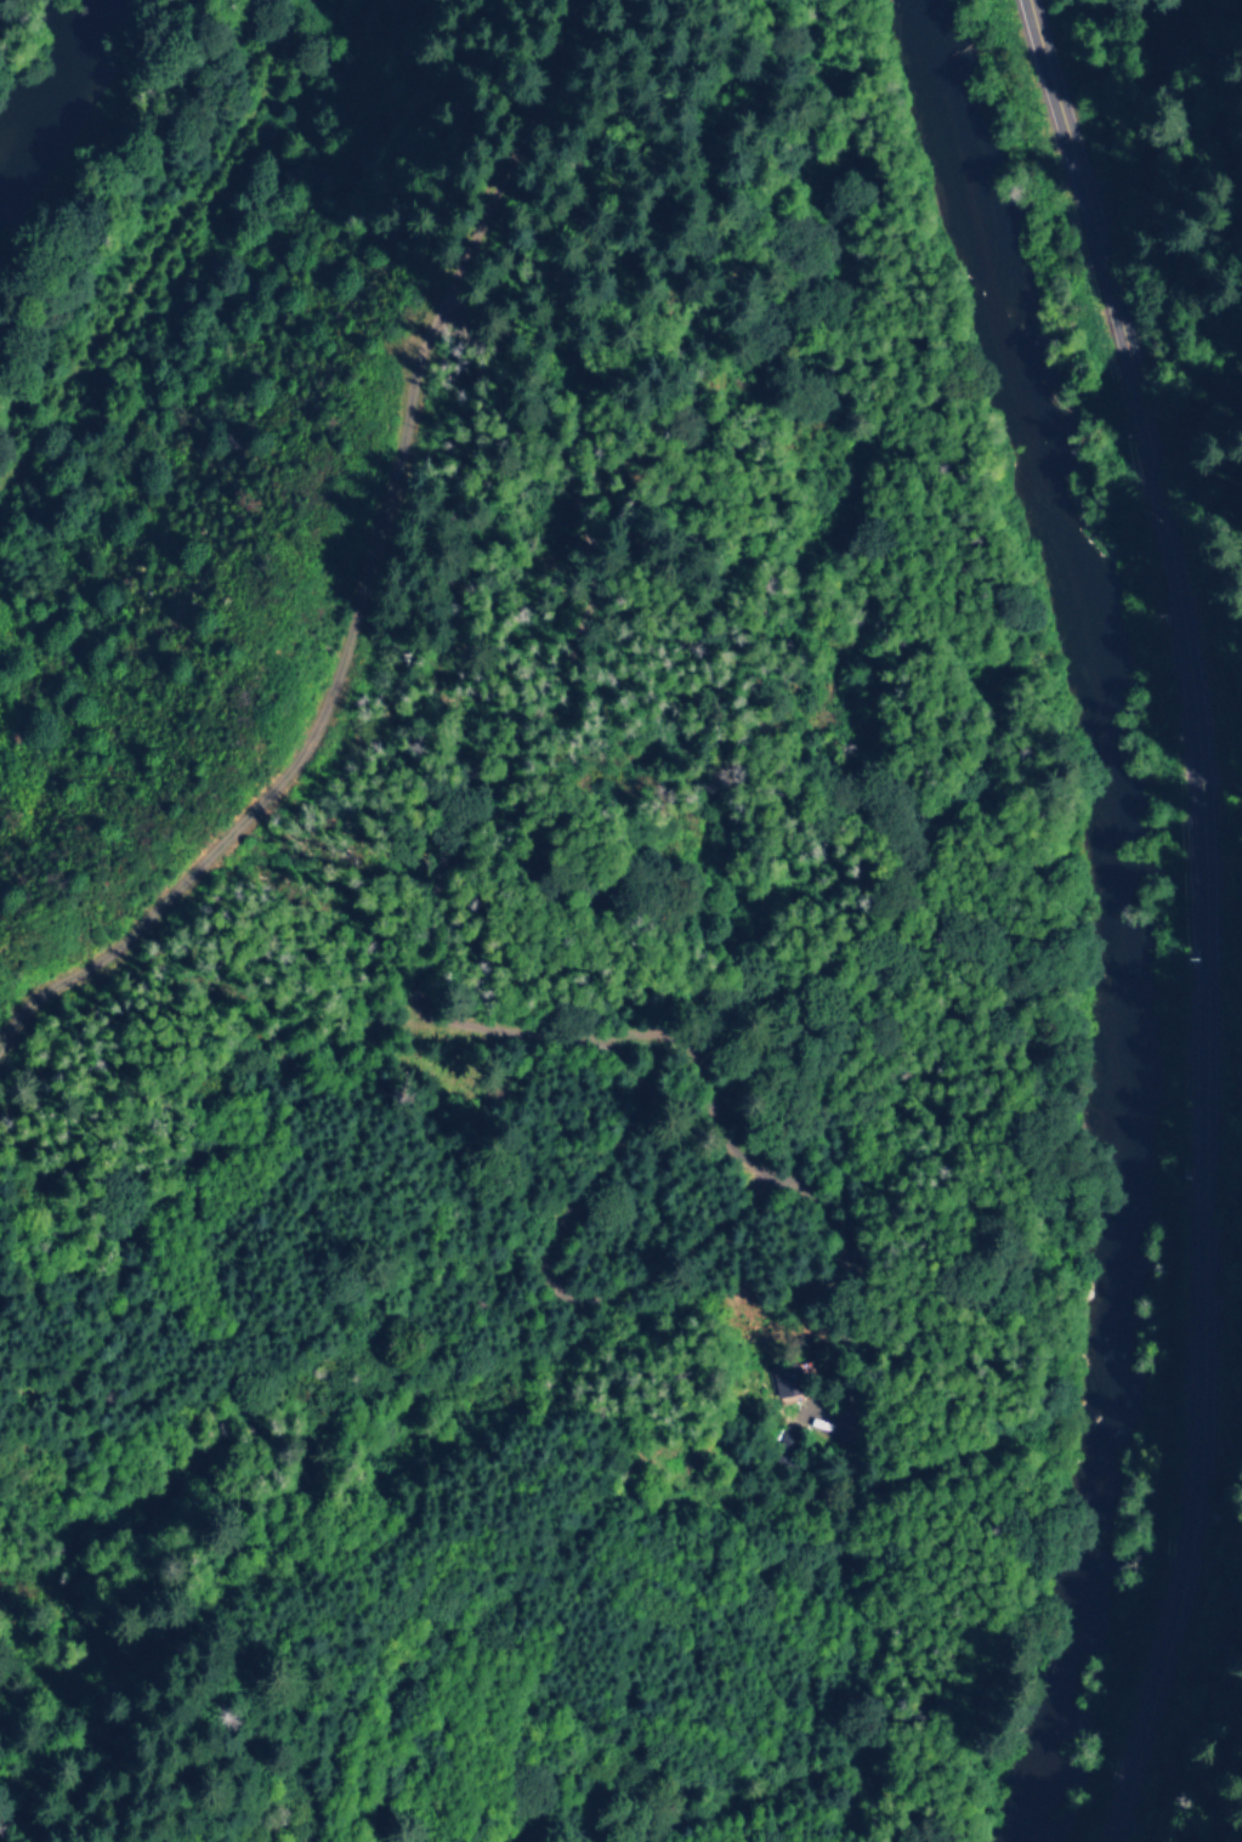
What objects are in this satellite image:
river: (55, 95)
road: (362, 576)
river: (1098, 913)
road: (1203, 916)
building: (777, 1381)

